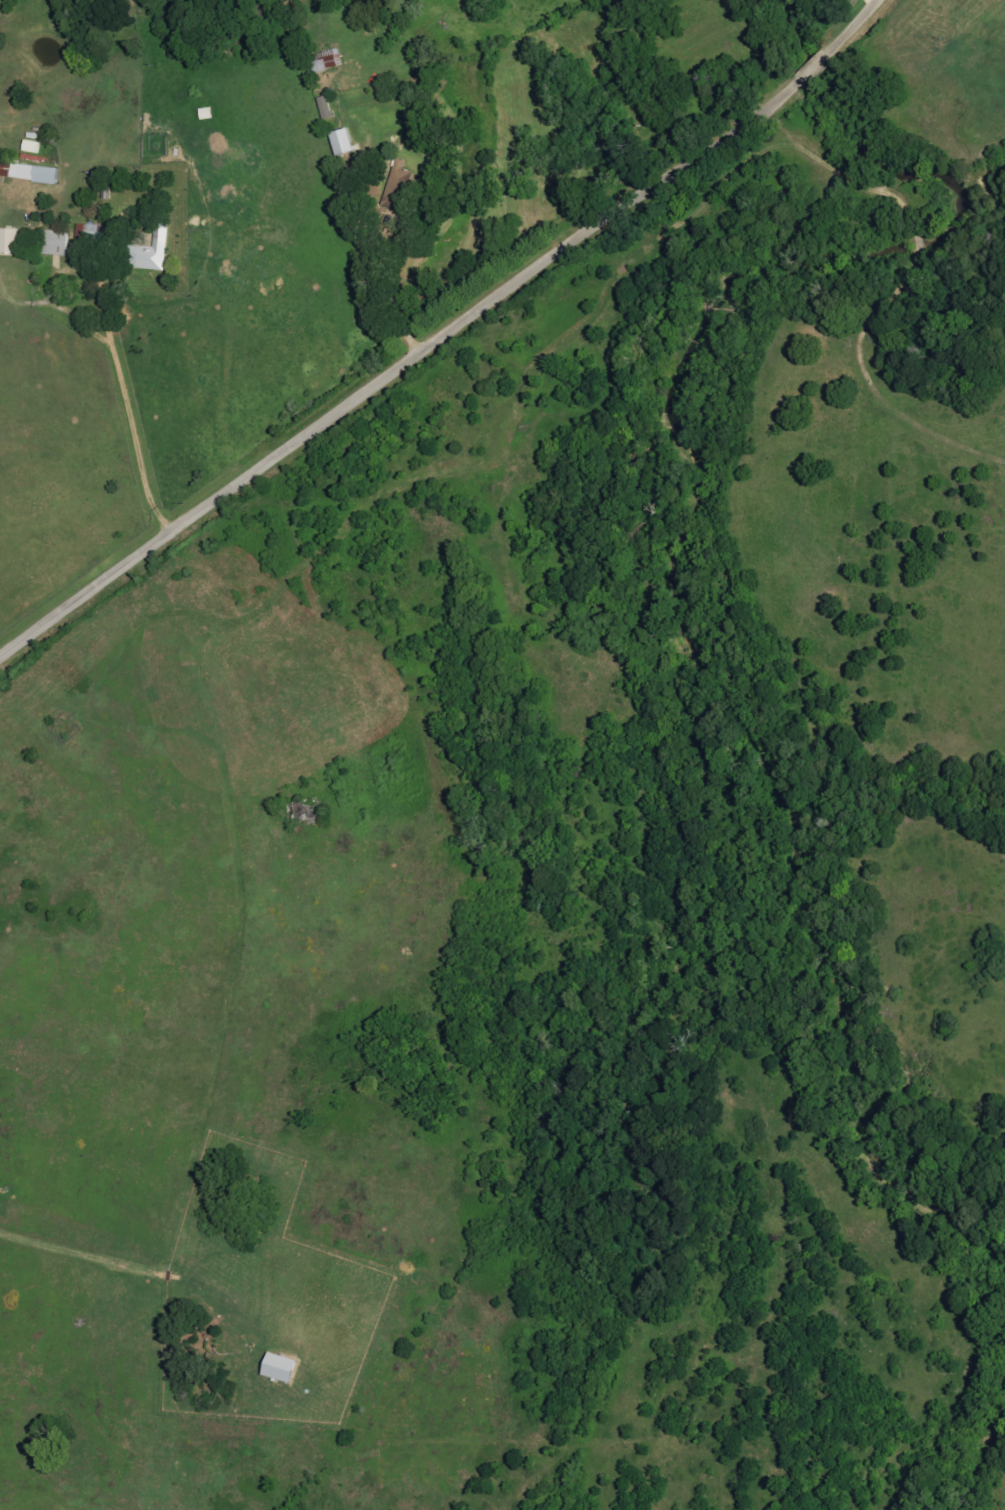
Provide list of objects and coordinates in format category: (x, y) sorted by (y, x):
building: (327, 62)
building: (342, 143)
building: (29, 173)
building: (8, 243)
building: (55, 244)
building: (148, 254)
road: (446, 335)
road: (134, 429)
building: (279, 1368)

